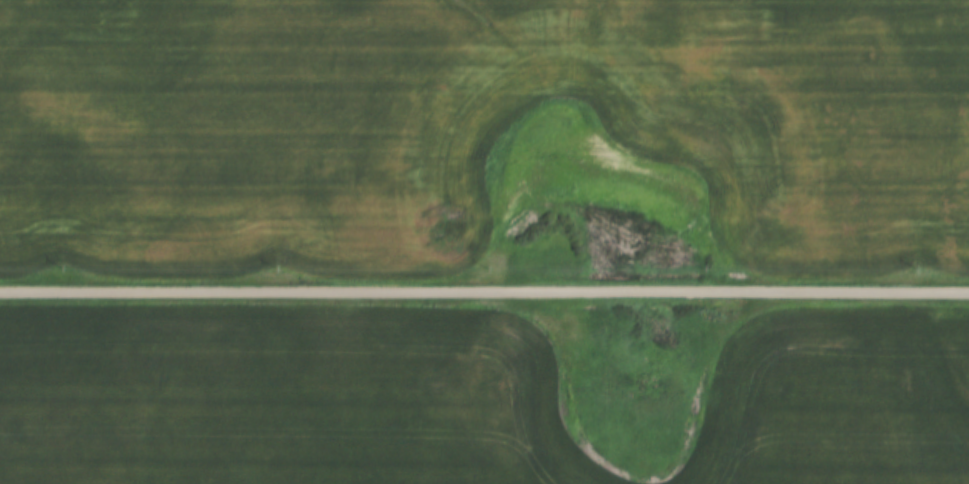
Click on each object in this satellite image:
road: (484, 286)

